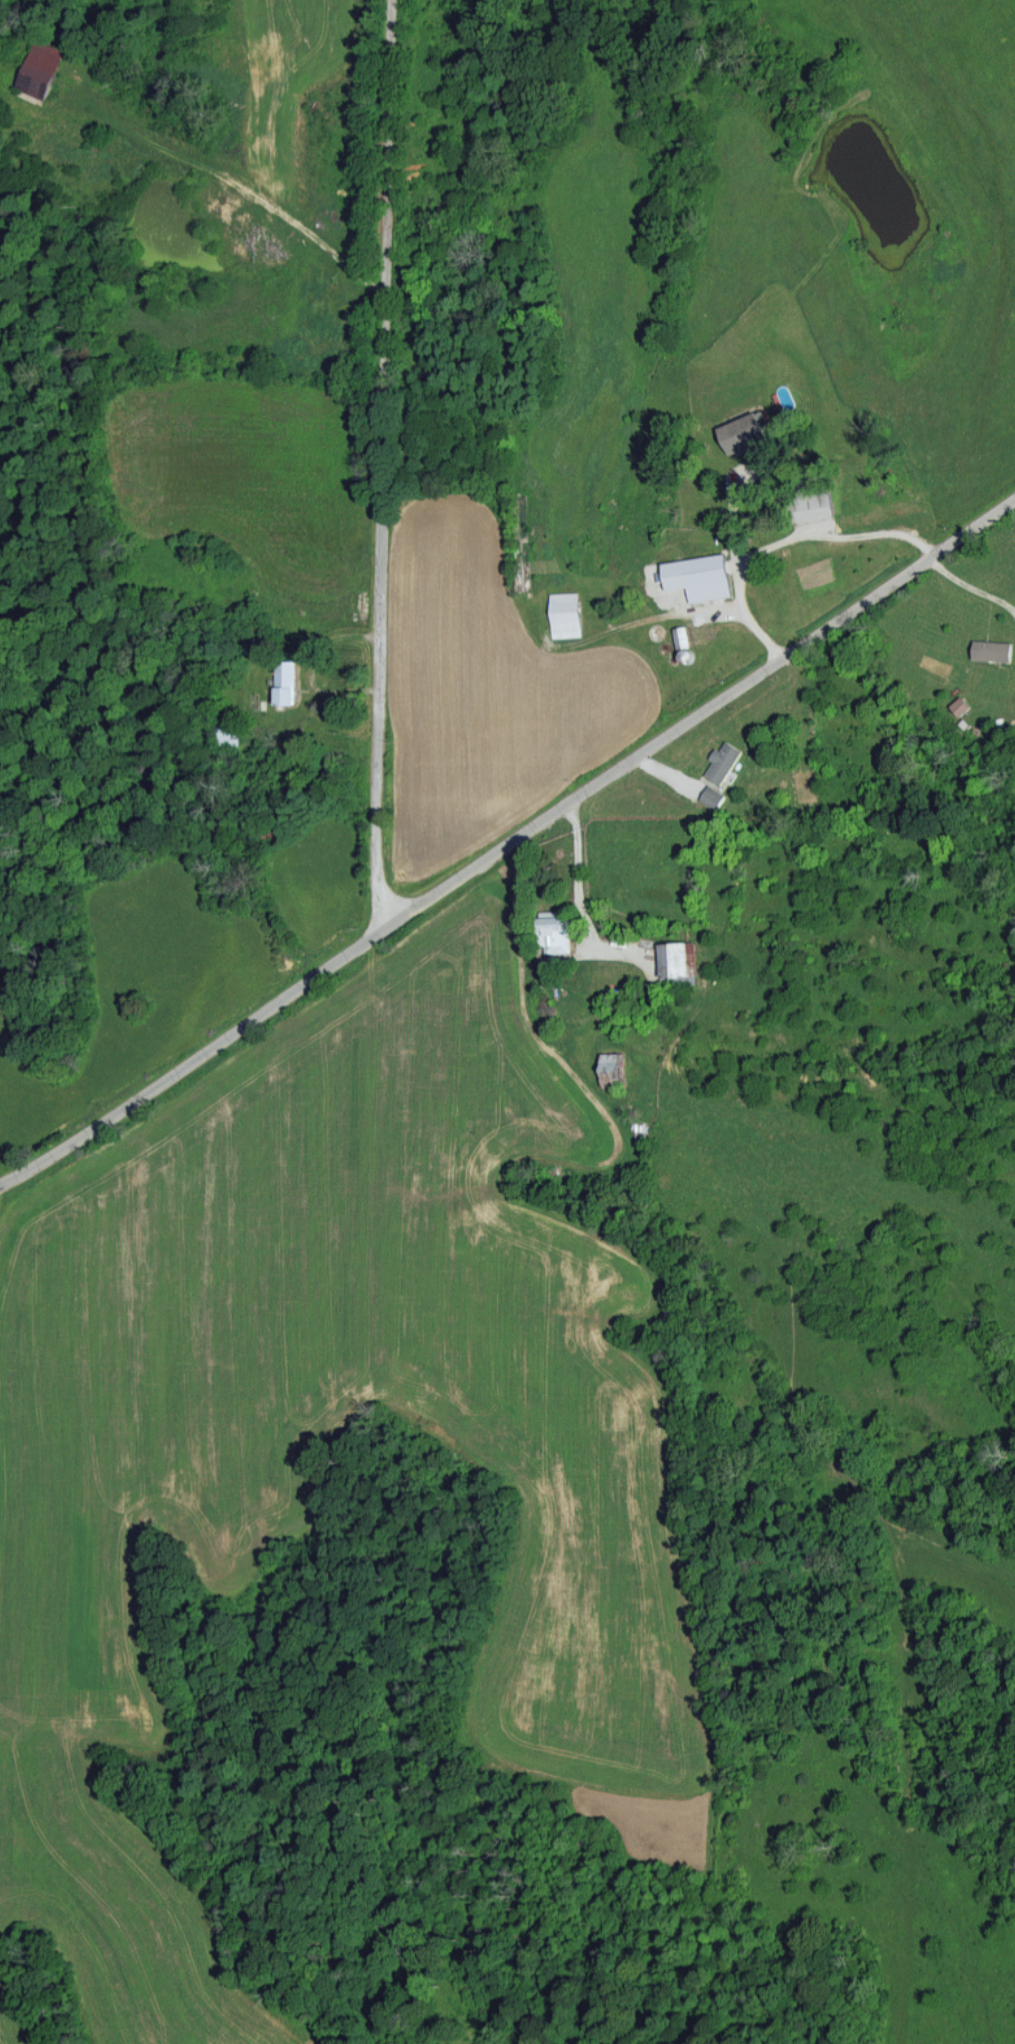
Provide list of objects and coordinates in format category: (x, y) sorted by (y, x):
road: (245, 186)
building: (739, 431)
road: (384, 461)
building: (811, 505)
road: (732, 512)
road: (784, 540)
building: (697, 576)
road: (970, 585)
building: (683, 636)
building: (991, 649)
road: (314, 666)
building: (287, 677)
building: (961, 705)
building: (723, 761)
building: (712, 796)
road: (508, 838)
road: (575, 876)
building: (553, 931)
building: (677, 959)
road: (21, 1226)

